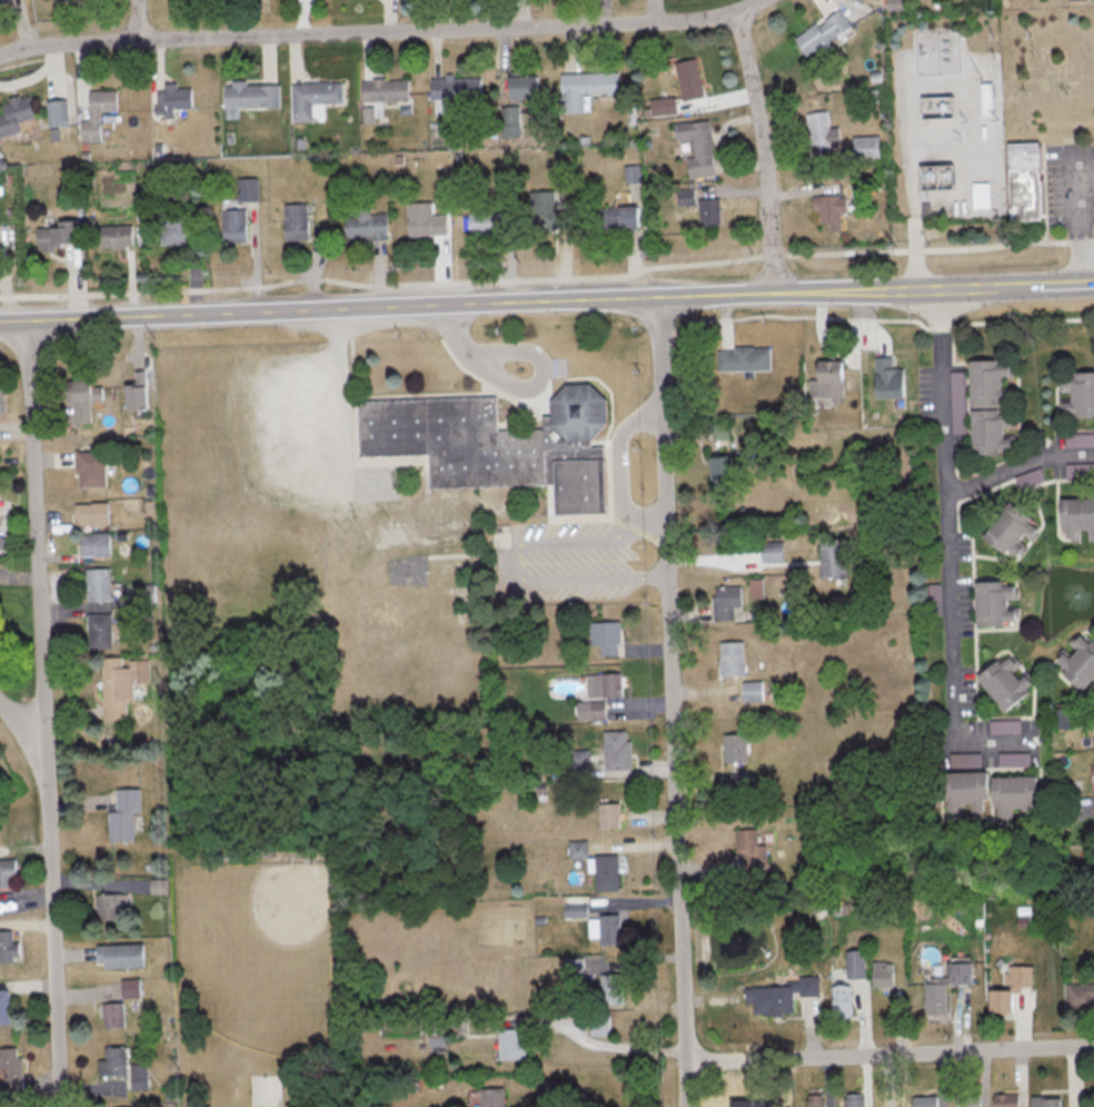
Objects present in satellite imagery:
building: (1078, 0)
building: (4, 1)
road: (137, 20)
road: (380, 32)
building: (824, 33)
building: (690, 80)
building: (527, 88)
building: (587, 88)
building: (387, 90)
building: (455, 91)
building: (253, 95)
building: (175, 99)
building: (316, 99)
building: (987, 99)
building: (665, 106)
building: (60, 112)
building: (99, 112)
power substation: (946, 113)
building: (16, 115)
building: (513, 121)
building: (823, 132)
building: (699, 147)
building: (868, 147)
road: (764, 151)
building: (1027, 157)
building: (939, 175)
building: (249, 188)
building: (982, 195)
building: (688, 196)
building: (1028, 196)
building: (832, 210)
building: (548, 212)
building: (712, 212)
road: (1080, 217)
building: (619, 218)
building: (426, 220)
building: (298, 221)
building: (488, 221)
building: (236, 225)
building: (367, 225)
building: (176, 227)
building: (61, 236)
building: (117, 237)
road: (1067, 285)
road: (520, 300)
building: (745, 357)
building: (834, 377)
building: (892, 377)
road: (521, 387)
building: (86, 391)
building: (2, 393)
building: (1078, 393)
building: (139, 396)
road: (339, 399)
building: (994, 406)
building: (500, 444)
road: (1018, 466)
building: (92, 468)
building: (725, 468)
road: (618, 471)
building: (93, 513)
road: (947, 516)
building: (1078, 517)
building: (1015, 530)
building: (97, 543)
building: (836, 557)
road: (508, 573)
building: (98, 584)
building: (728, 601)
building: (999, 602)
building: (100, 630)
building: (608, 636)
building: (733, 658)
building: (1080, 661)
building: (1008, 681)
building: (122, 682)
building: (614, 684)
building: (754, 691)
road: (672, 702)
building: (599, 710)
road: (42, 713)
building: (1065, 718)
road: (19, 725)
road: (993, 744)
building: (737, 748)
building: (620, 750)
building: (994, 792)
building: (125, 814)
building: (610, 814)
building: (580, 849)
building: (753, 850)
building: (9, 872)
building: (609, 872)
building: (159, 886)
park: (255, 903)
building: (112, 907)
building: (608, 929)
building: (9, 947)
building: (121, 956)
park: (251, 956)
building: (857, 965)
building: (885, 973)
building: (948, 986)
building: (130, 988)
building: (1013, 988)
building: (614, 989)
building: (1082, 995)
building: (782, 996)
building: (845, 1000)
building: (4, 1007)
building: (113, 1016)
building: (600, 1025)
building: (514, 1045)
road: (621, 1046)
road: (888, 1054)
building: (115, 1062)
building: (10, 1069)
building: (140, 1076)
park: (265, 1088)
building: (547, 1091)
building: (494, 1097)
building: (818, 1098)
building: (856, 1100)
building: (973, 1100)
building: (1008, 1100)
building: (928, 1101)
building: (1047, 1101)

